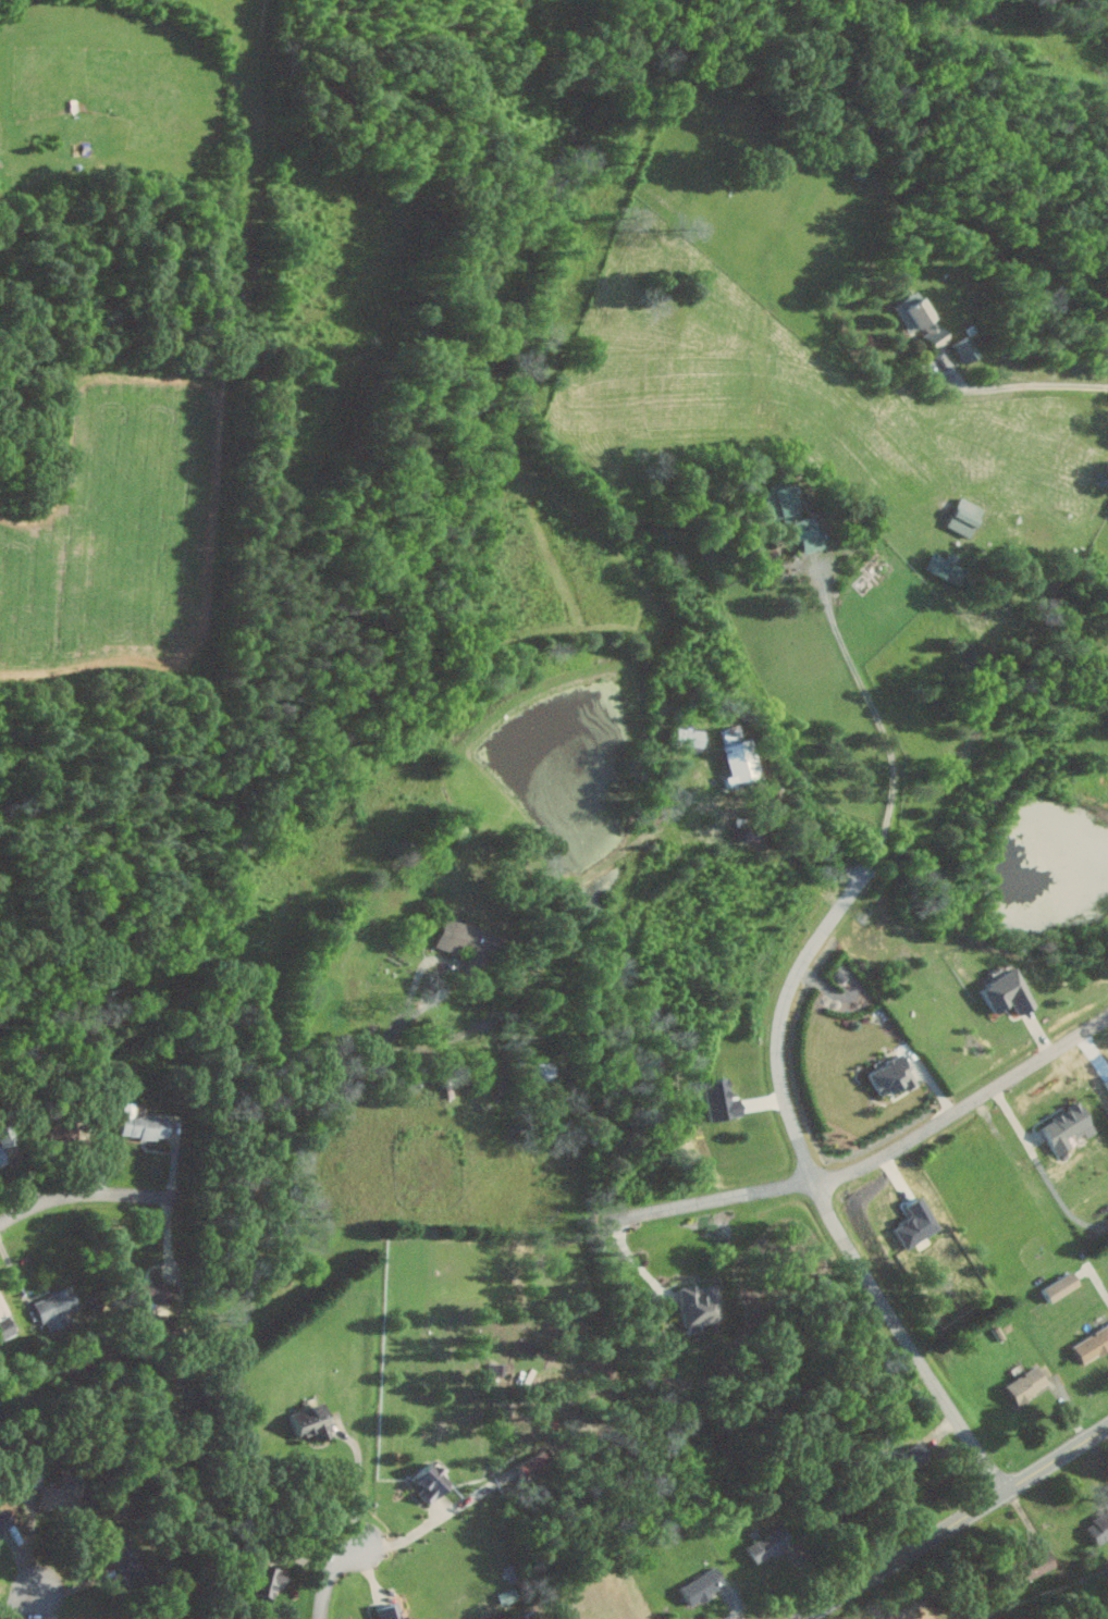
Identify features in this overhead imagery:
building: (918, 322)
road: (1025, 385)
building: (959, 515)
building: (787, 516)
building: (941, 568)
building: (680, 736)
building: (471, 944)
building: (1000, 991)
road: (778, 1034)
road: (366, 1055)
building: (885, 1076)
building: (140, 1123)
building: (1060, 1126)
building: (1, 1159)
road: (877, 1160)
road: (104, 1195)
road: (639, 1265)
building: (1054, 1286)
building: (695, 1303)
building: (57, 1307)
building: (8, 1325)
building: (1088, 1343)
building: (1021, 1384)
building: (312, 1421)
building: (903, 1459)
building: (434, 1482)
road: (359, 1488)
building: (59, 1494)
building: (2, 1519)
road: (956, 1523)
building: (1096, 1528)
road: (410, 1534)
building: (763, 1545)
building: (124, 1557)
building: (1023, 1568)
road: (333, 1578)
building: (269, 1580)
building: (697, 1585)
road: (23, 1607)
building: (393, 1611)

